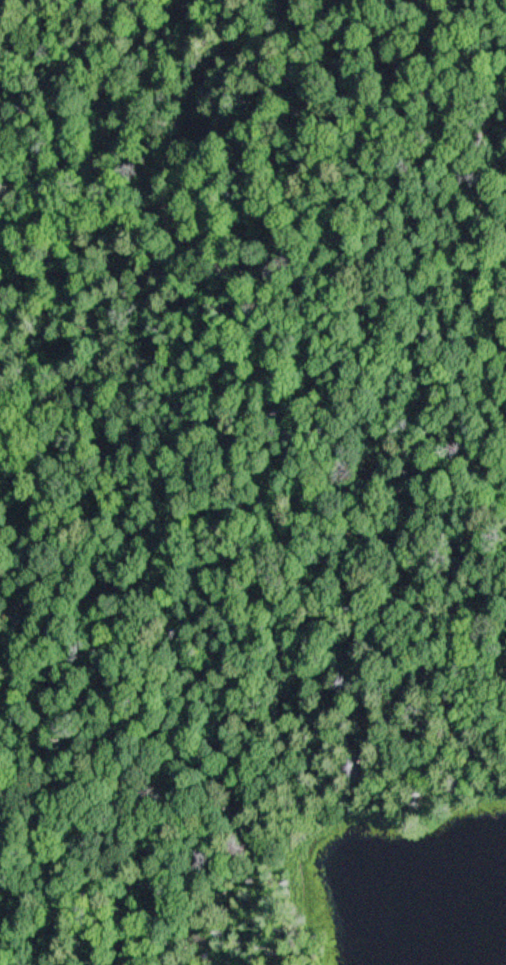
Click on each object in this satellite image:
road: (249, 726)

